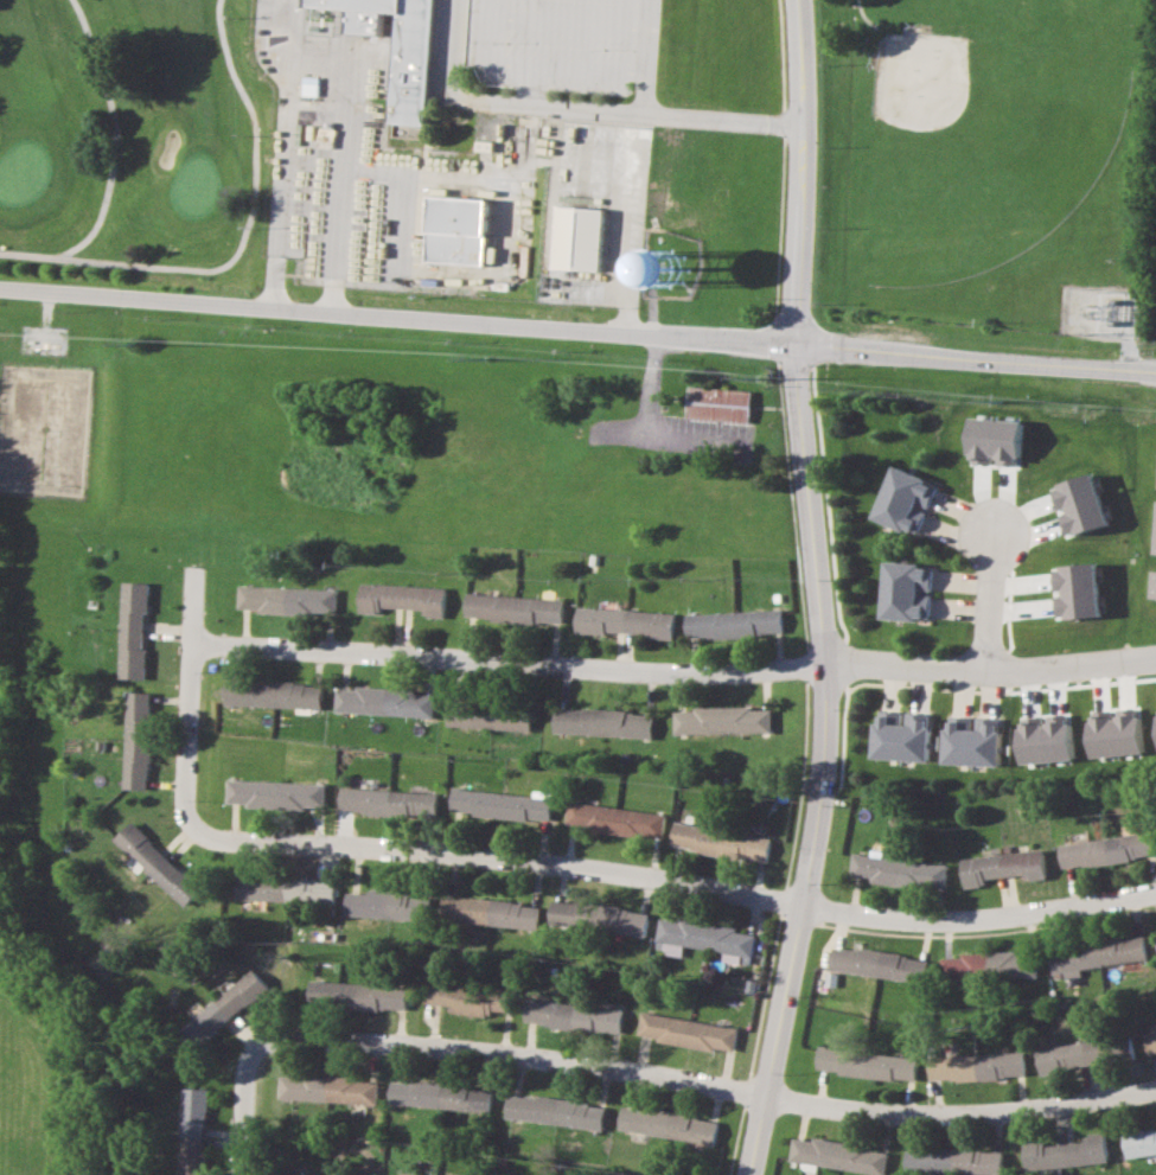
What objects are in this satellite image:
building: (395, 49)
road: (644, 56)
road: (317, 66)
road: (581, 108)
park: (129, 136)
park: (986, 147)
park: (988, 172)
building: (453, 230)
building: (576, 238)
building: (671, 268)
water tower: (678, 273)
road: (577, 332)
building: (720, 403)
building: (903, 499)
building: (1155, 544)
building: (1152, 585)
building: (906, 590)
road: (804, 593)
road: (193, 598)
building: (285, 599)
building: (401, 600)
road: (985, 601)
building: (513, 607)
building: (622, 624)
building: (729, 625)
building: (130, 633)
road: (506, 662)
road: (989, 668)
building: (272, 697)
building: (382, 704)
building: (488, 717)
building: (720, 724)
building: (602, 726)
building: (1115, 733)
building: (901, 735)
building: (971, 741)
building: (135, 742)
building: (272, 794)
building: (387, 803)
building: (502, 806)
building: (614, 820)
building: (718, 843)
building: (1106, 850)
road: (585, 863)
building: (1002, 866)
building: (153, 867)
building: (898, 870)
building: (286, 888)
building: (384, 903)
building: (490, 912)
building: (599, 917)
building: (705, 939)
building: (1096, 954)
building: (875, 963)
building: (988, 965)
building: (358, 995)
building: (472, 997)
building: (225, 1008)
building: (574, 1016)
building: (686, 1032)
building: (1150, 1041)
building: (1123, 1047)
building: (1073, 1055)
building: (866, 1064)
building: (976, 1066)
road: (681, 1074)
building: (328, 1088)
building: (440, 1096)
building: (555, 1111)
building: (668, 1124)
building: (193, 1131)
road: (244, 1135)
building: (1139, 1142)
building: (1062, 1152)
building: (837, 1156)
building: (952, 1161)

